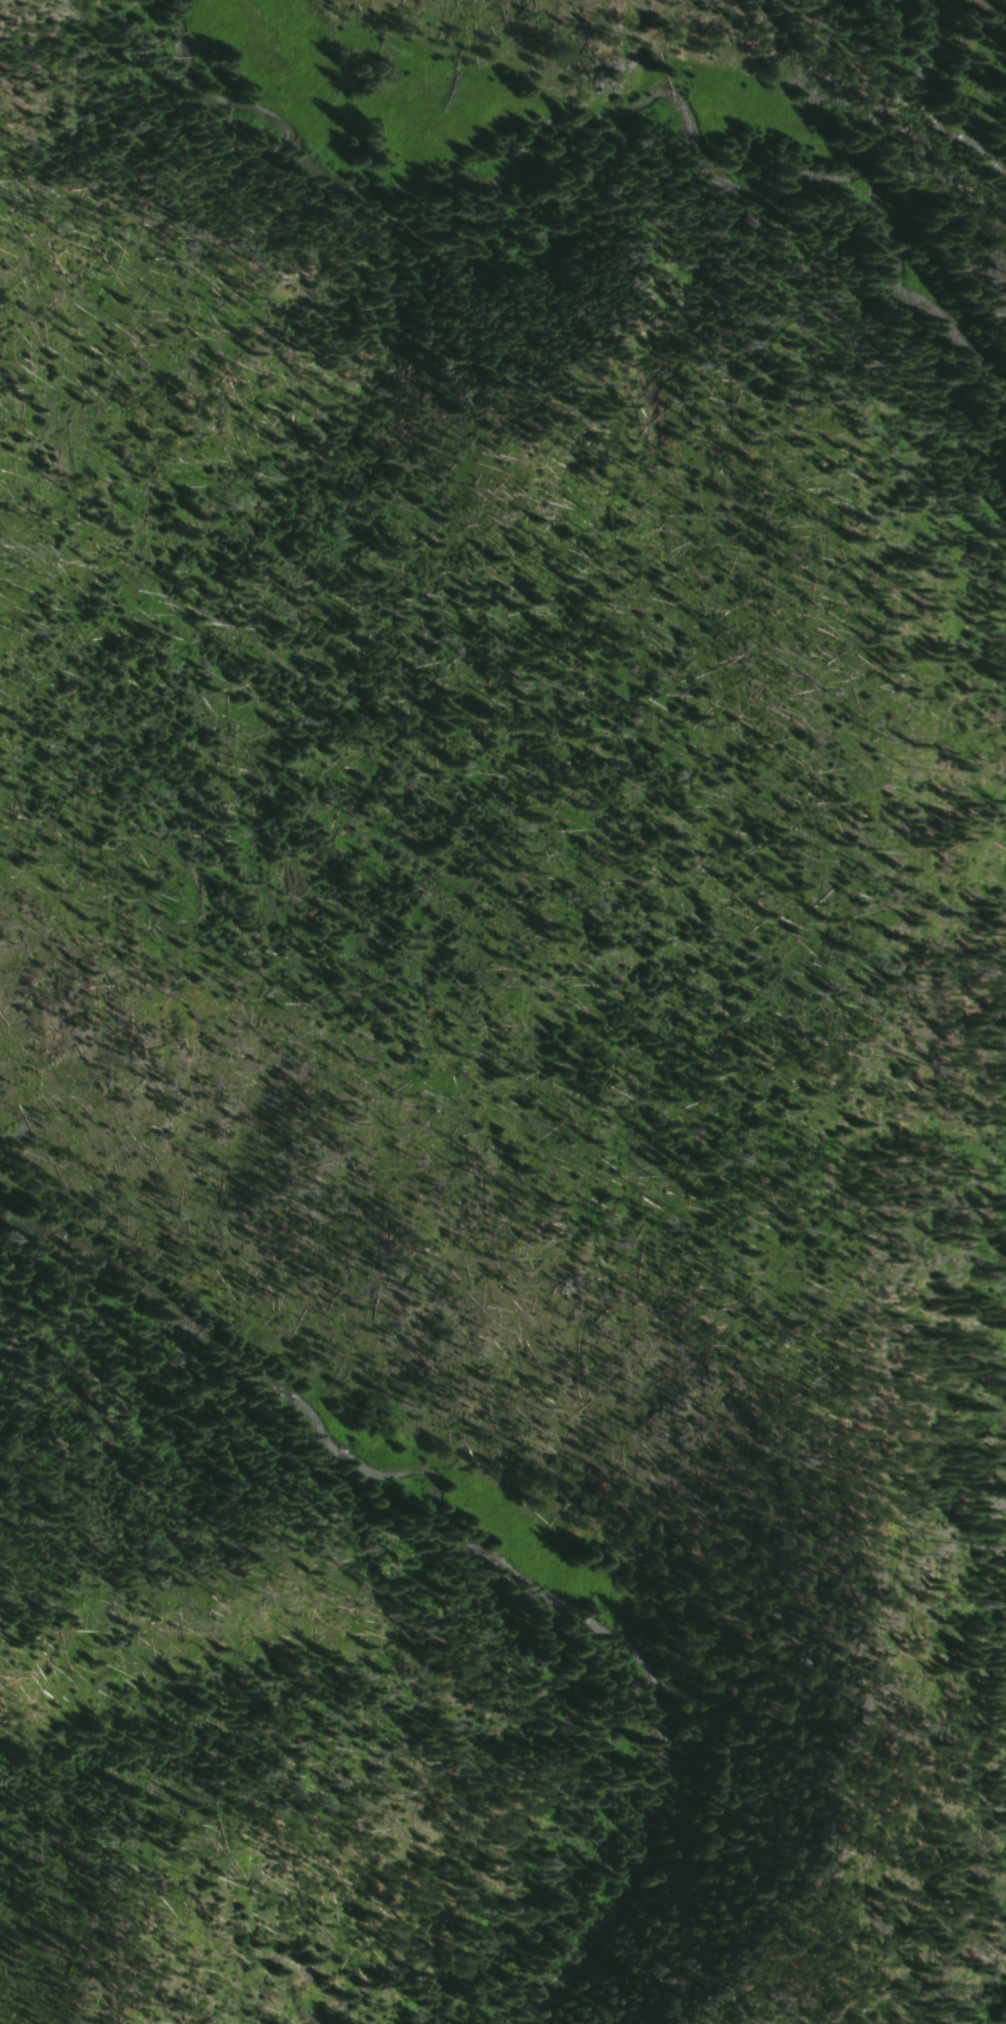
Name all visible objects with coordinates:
road: (991, 9)
river: (930, 97)
river: (611, 114)
river: (474, 1547)

